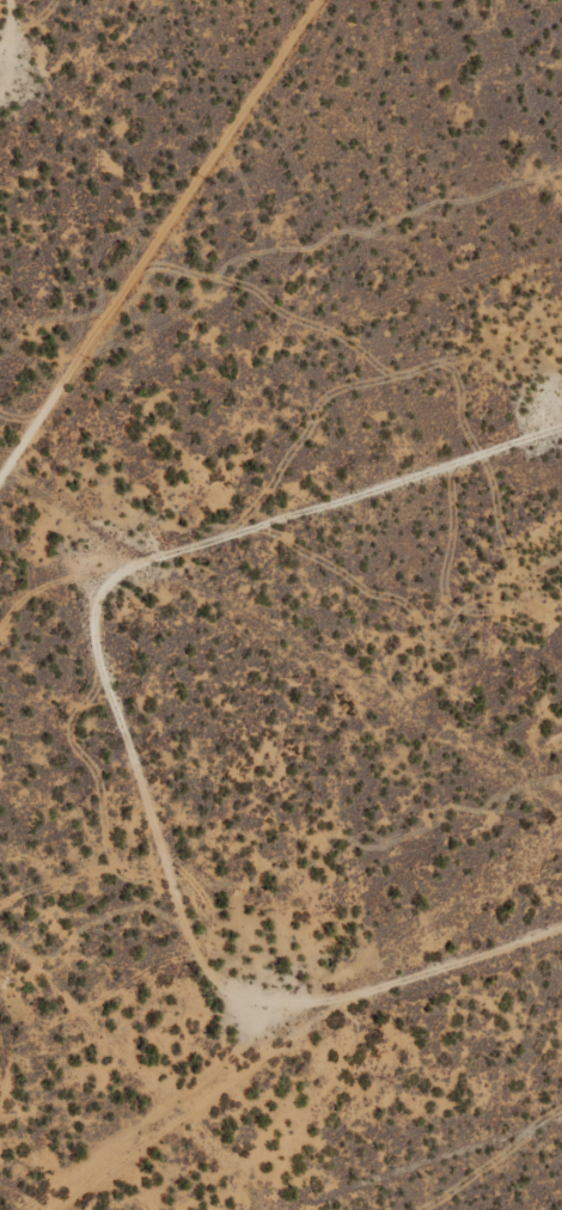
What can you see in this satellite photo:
road: (74, 774)
road: (422, 1166)

